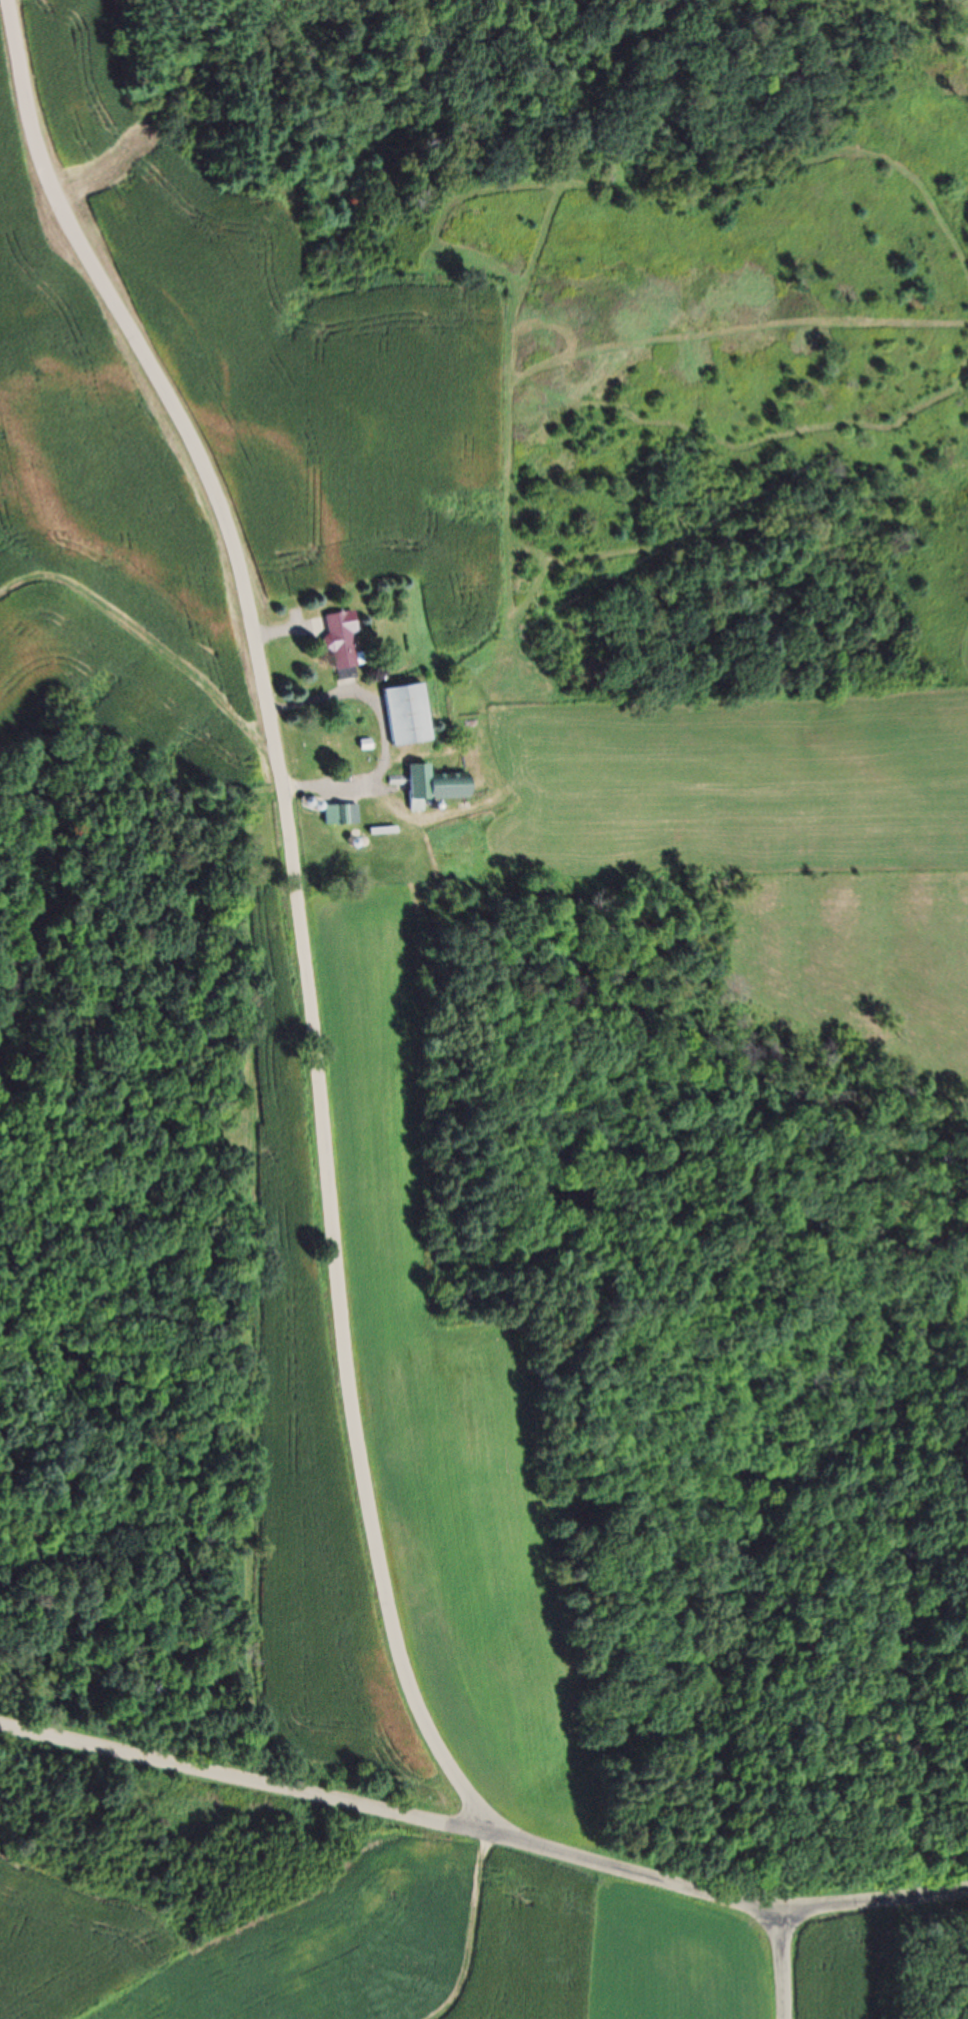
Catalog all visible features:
building: (353, 639)
building: (418, 714)
building: (448, 785)
building: (351, 814)
road: (303, 911)
road: (483, 1834)
road: (780, 1964)

